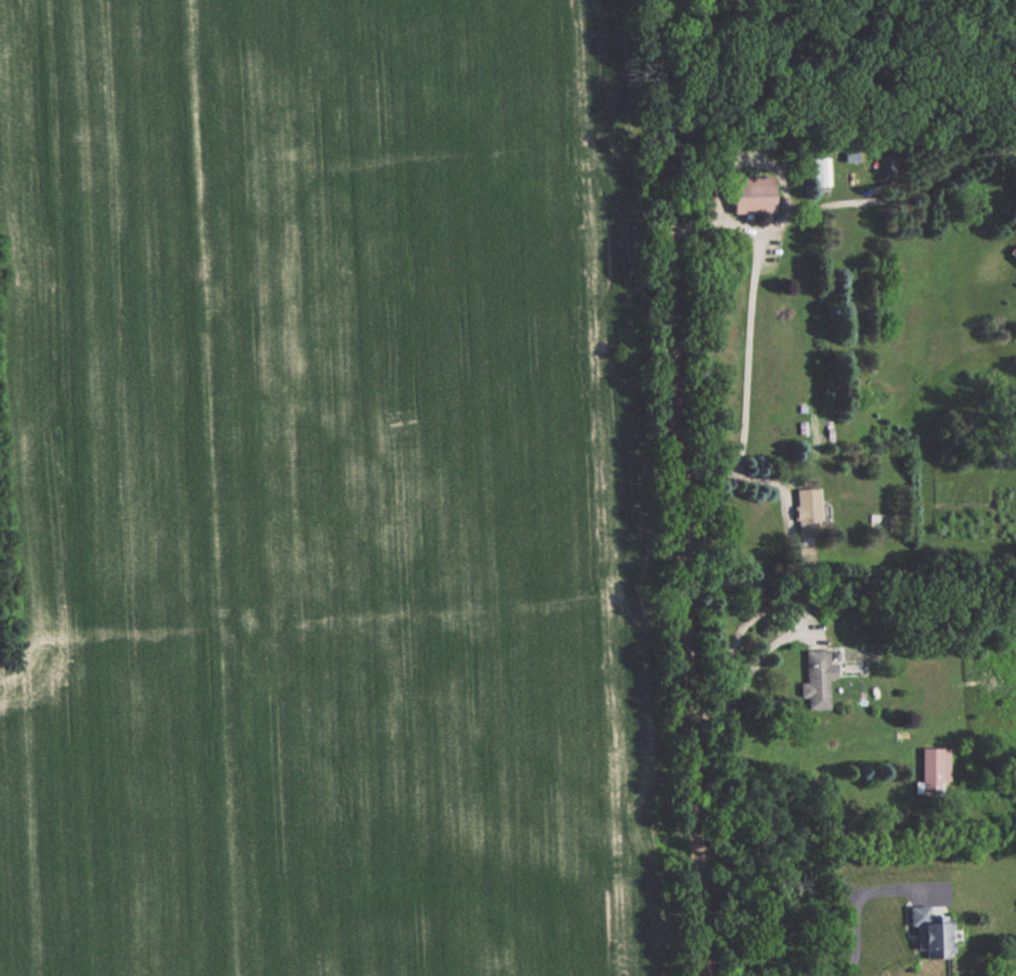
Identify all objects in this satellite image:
building: (751, 198)
road: (714, 223)
road: (762, 241)
building: (1014, 252)
building: (859, 374)
road: (769, 477)
road: (677, 487)
building: (808, 512)
road: (800, 619)
building: (817, 678)
building: (934, 771)
road: (856, 907)
building: (928, 930)

